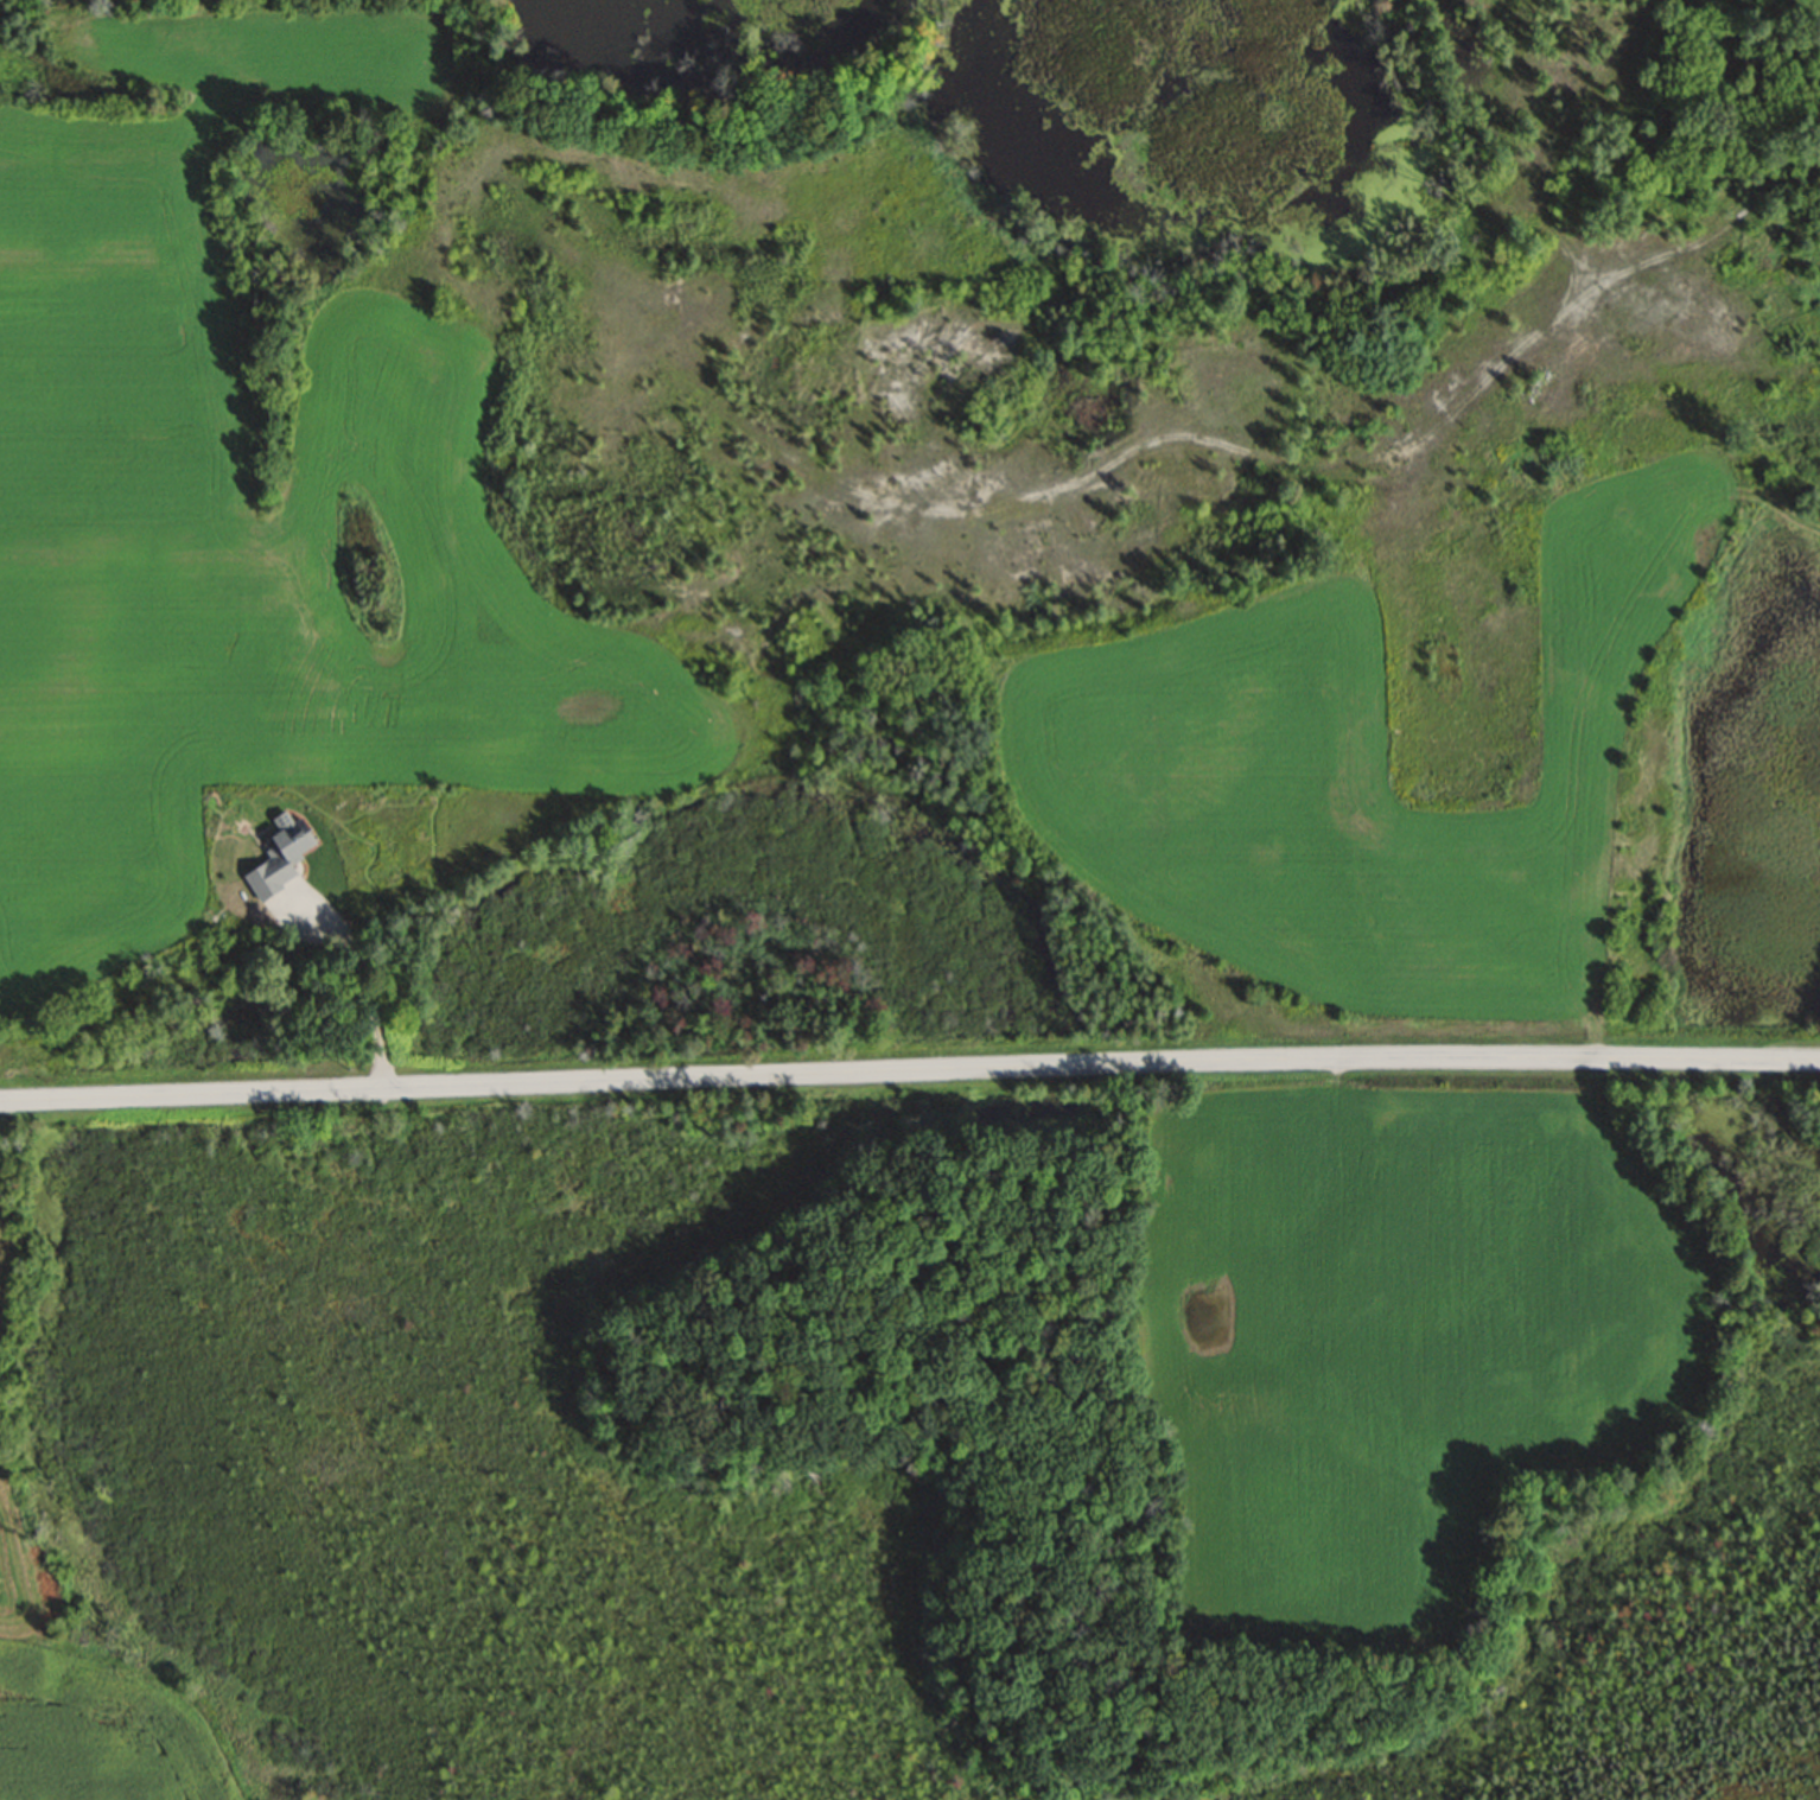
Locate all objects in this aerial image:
road: (909, 1073)

